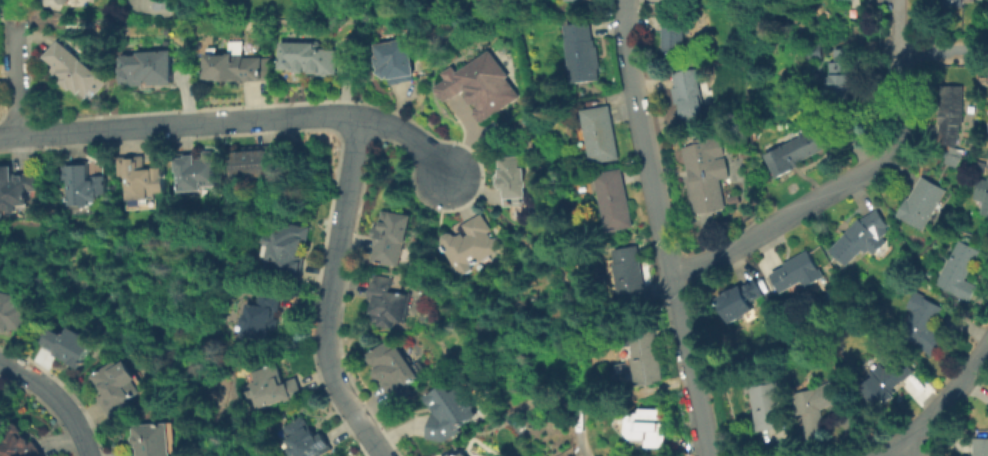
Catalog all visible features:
building: (62, 0)
building: (488, 0)
building: (581, 1)
building: (954, 3)
road: (6, 20)
building: (674, 31)
building: (583, 49)
building: (811, 49)
road: (944, 53)
building: (308, 60)
building: (396, 60)
building: (149, 69)
building: (75, 73)
building: (236, 73)
building: (841, 73)
road: (13, 77)
building: (481, 89)
building: (688, 92)
building: (950, 114)
road: (233, 121)
building: (986, 122)
building: (600, 132)
building: (797, 149)
building: (953, 157)
building: (253, 159)
building: (980, 165)
building: (197, 170)
building: (706, 174)
road: (847, 180)
building: (141, 181)
building: (512, 181)
building: (83, 183)
building: (15, 187)
building: (980, 198)
building: (616, 200)
building: (921, 203)
road: (657, 228)
building: (391, 236)
building: (864, 238)
building: (470, 245)
building: (286, 248)
building: (959, 271)
building: (799, 273)
building: (629, 277)
road: (329, 293)
building: (741, 300)
building: (386, 302)
building: (11, 311)
building: (261, 315)
building: (924, 323)
building: (69, 344)
building: (648, 356)
building: (392, 369)
building: (886, 382)
building: (118, 387)
building: (274, 387)
road: (56, 398)
road: (939, 402)
building: (767, 403)
building: (821, 404)
building: (449, 412)
building: (649, 426)
building: (150, 438)
building: (306, 438)
building: (21, 442)
building: (981, 447)
road: (909, 448)
building: (451, 454)
building: (461, 454)

